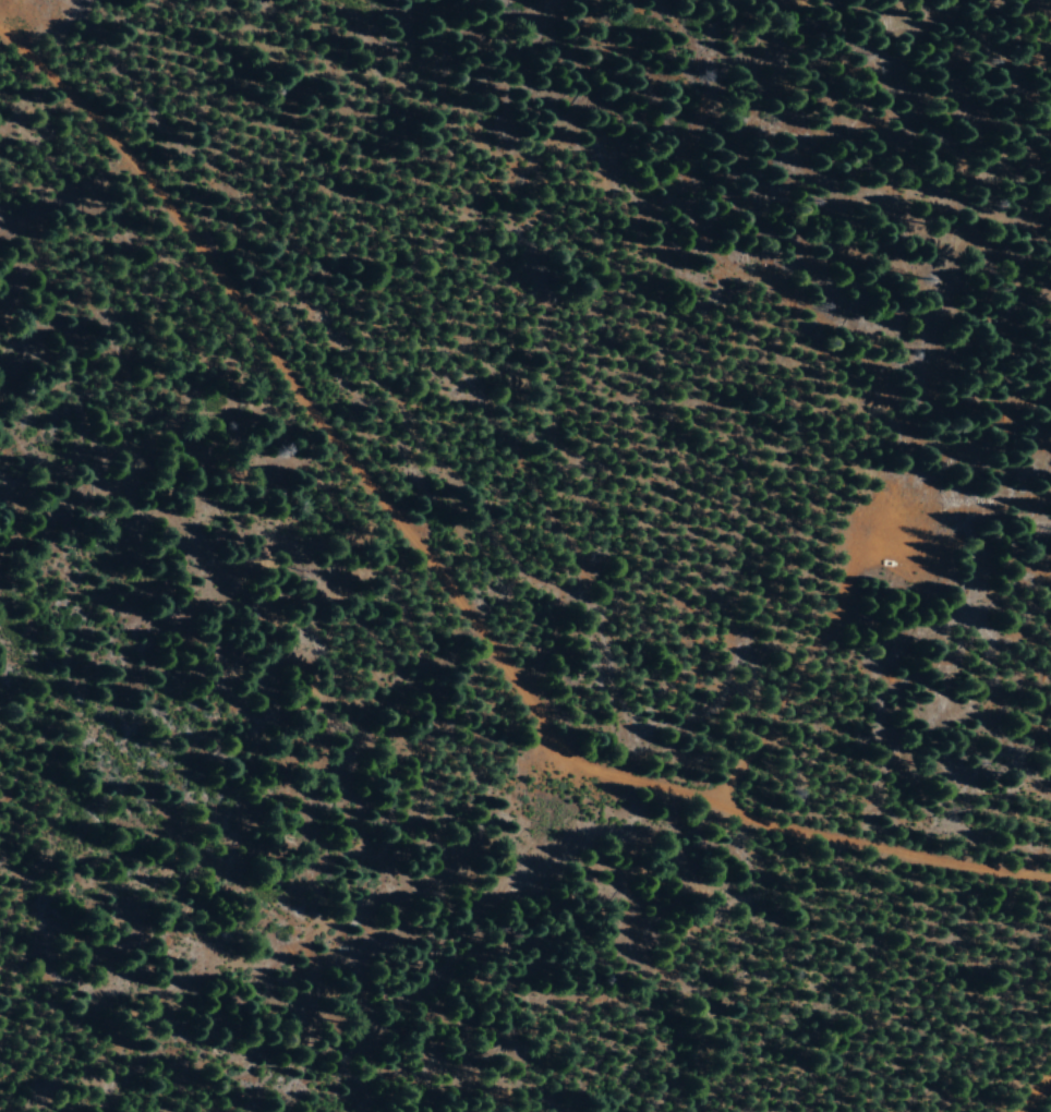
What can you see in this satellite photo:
road: (450, 577)
road: (1025, 1076)

